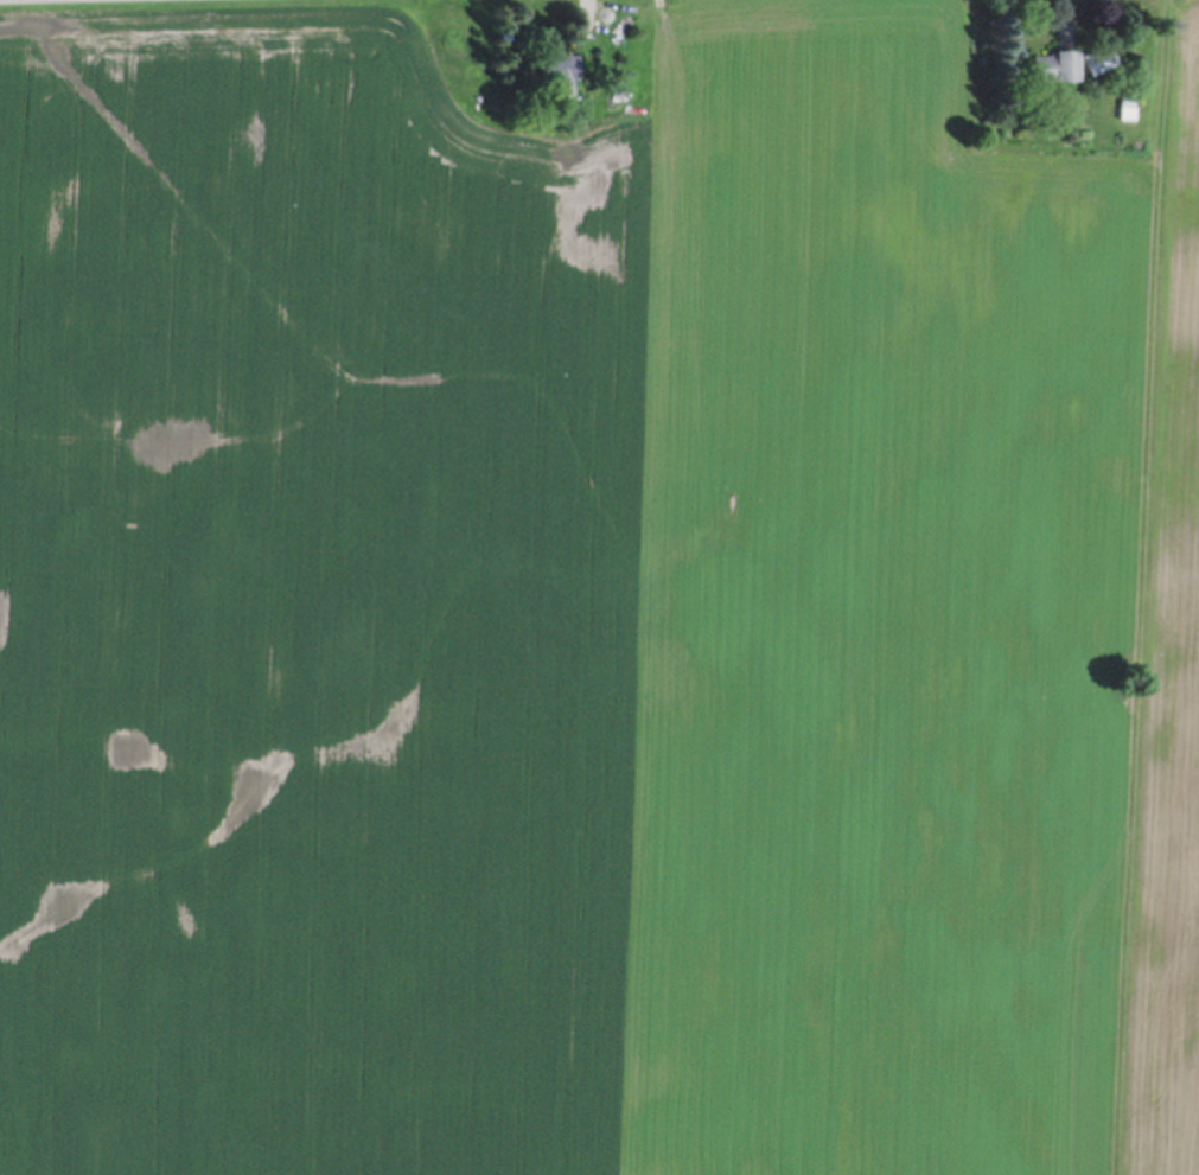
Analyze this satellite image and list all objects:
road: (1069, 1)
road: (586, 7)
building: (1050, 62)
building: (555, 63)
building: (1124, 107)

